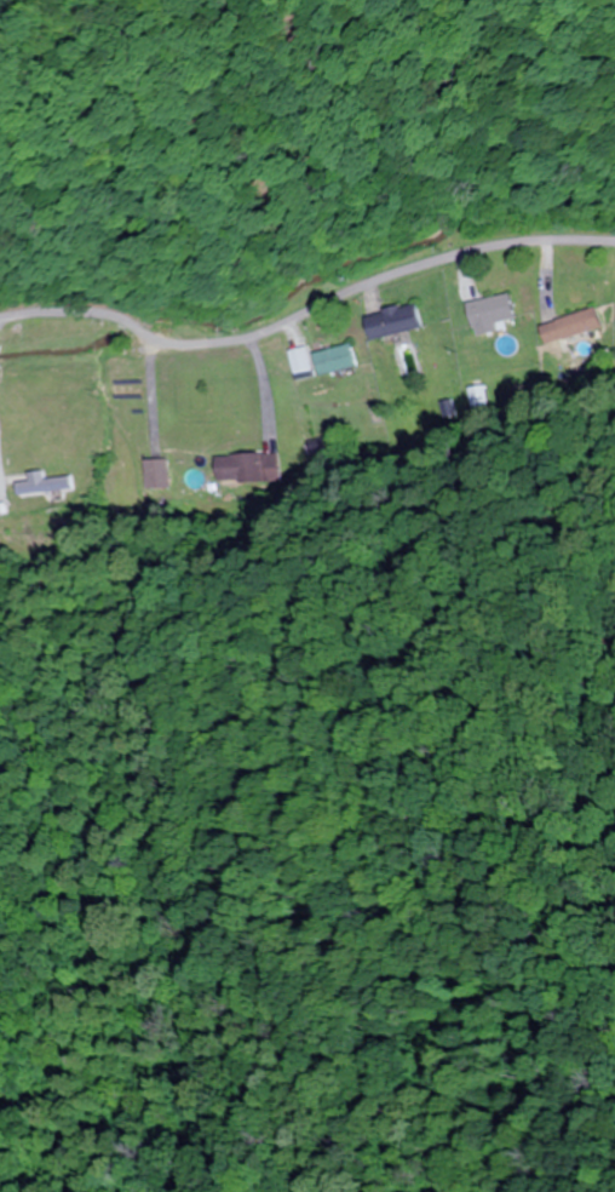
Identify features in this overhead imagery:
road: (392, 276)
building: (492, 310)
road: (92, 316)
building: (393, 322)
building: (573, 327)
building: (335, 360)
building: (301, 363)
building: (247, 465)
building: (159, 471)
building: (50, 486)

